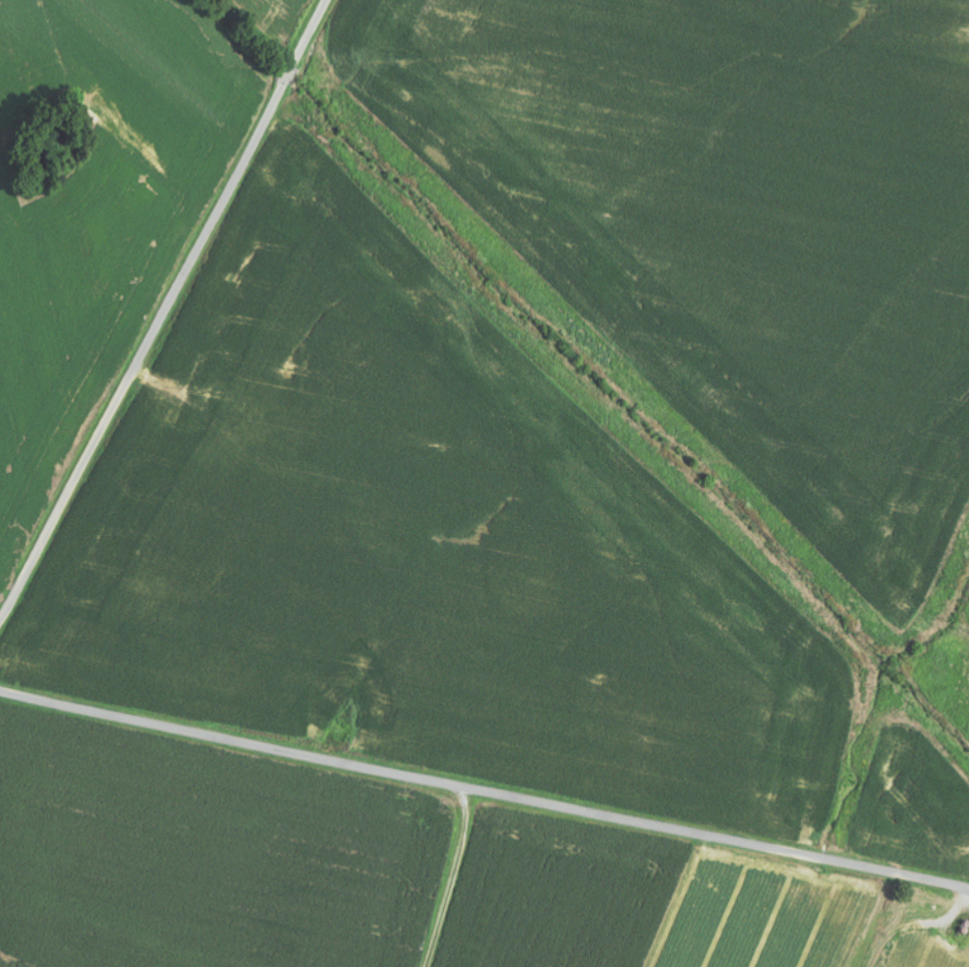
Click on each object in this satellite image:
road: (164, 311)
road: (484, 791)

